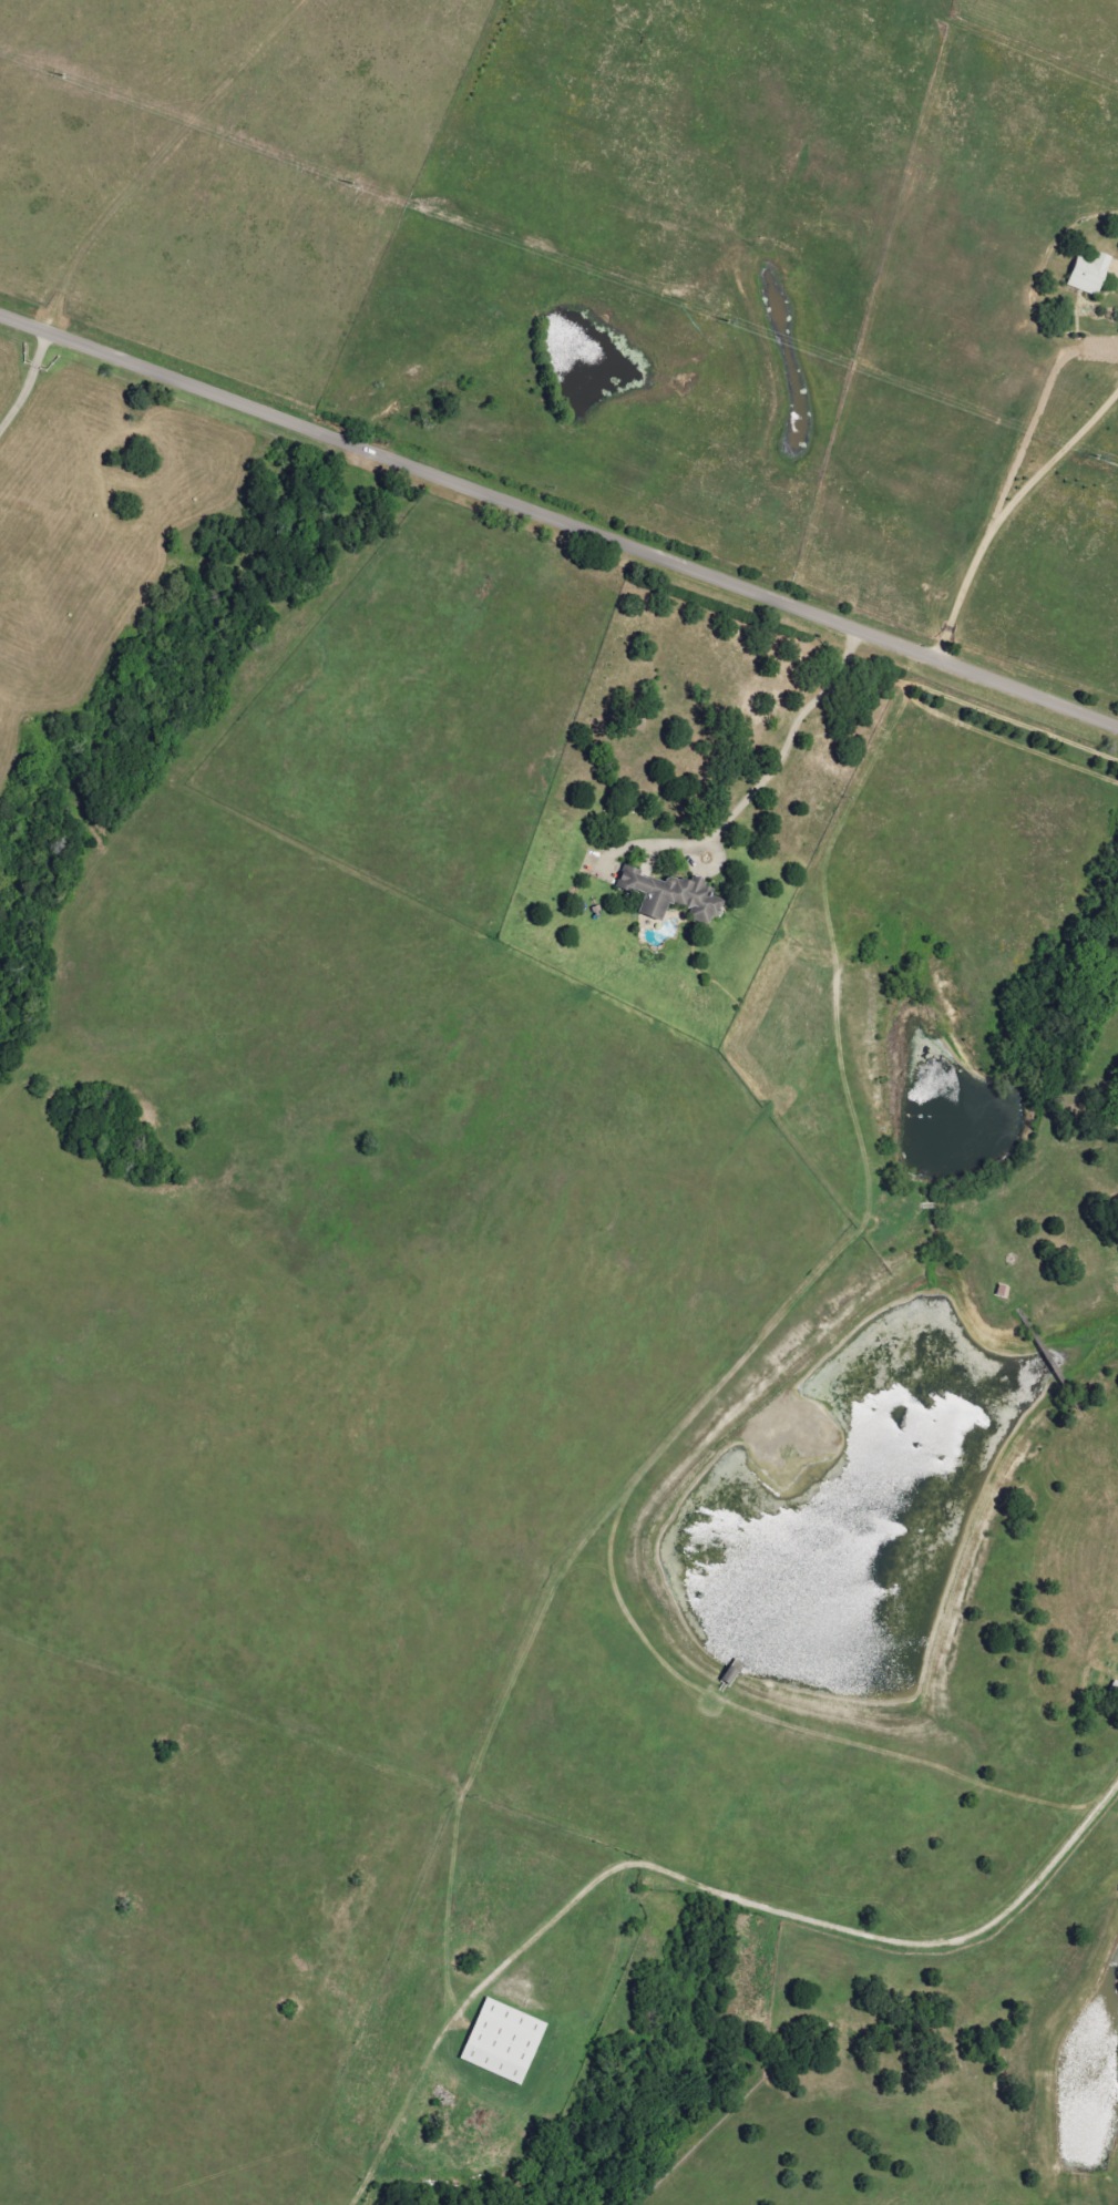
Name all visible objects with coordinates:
road: (177, 165)
building: (1091, 275)
road: (29, 382)
road: (1005, 515)
road: (560, 519)
road: (784, 746)
building: (674, 896)
road: (794, 1929)
building: (505, 2042)

